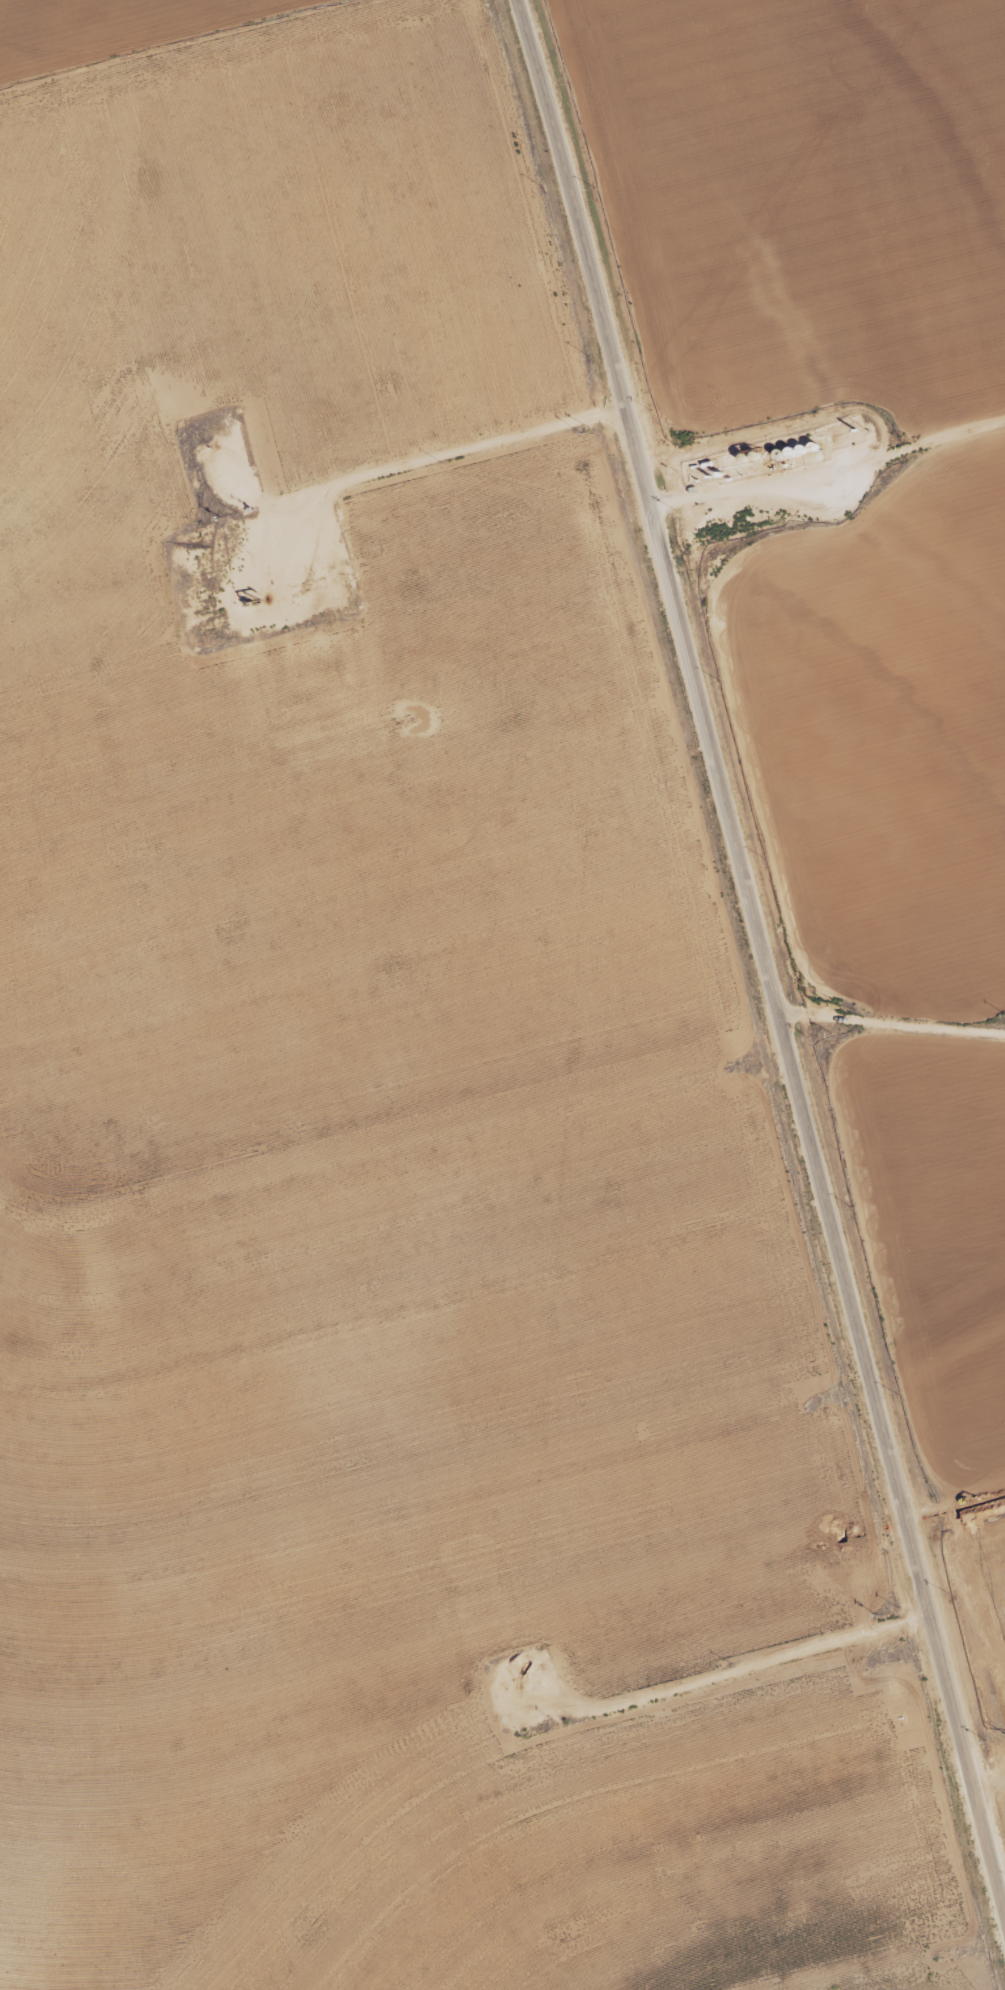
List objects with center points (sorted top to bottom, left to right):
road: (832, 498)
road: (764, 958)
road: (749, 1642)

